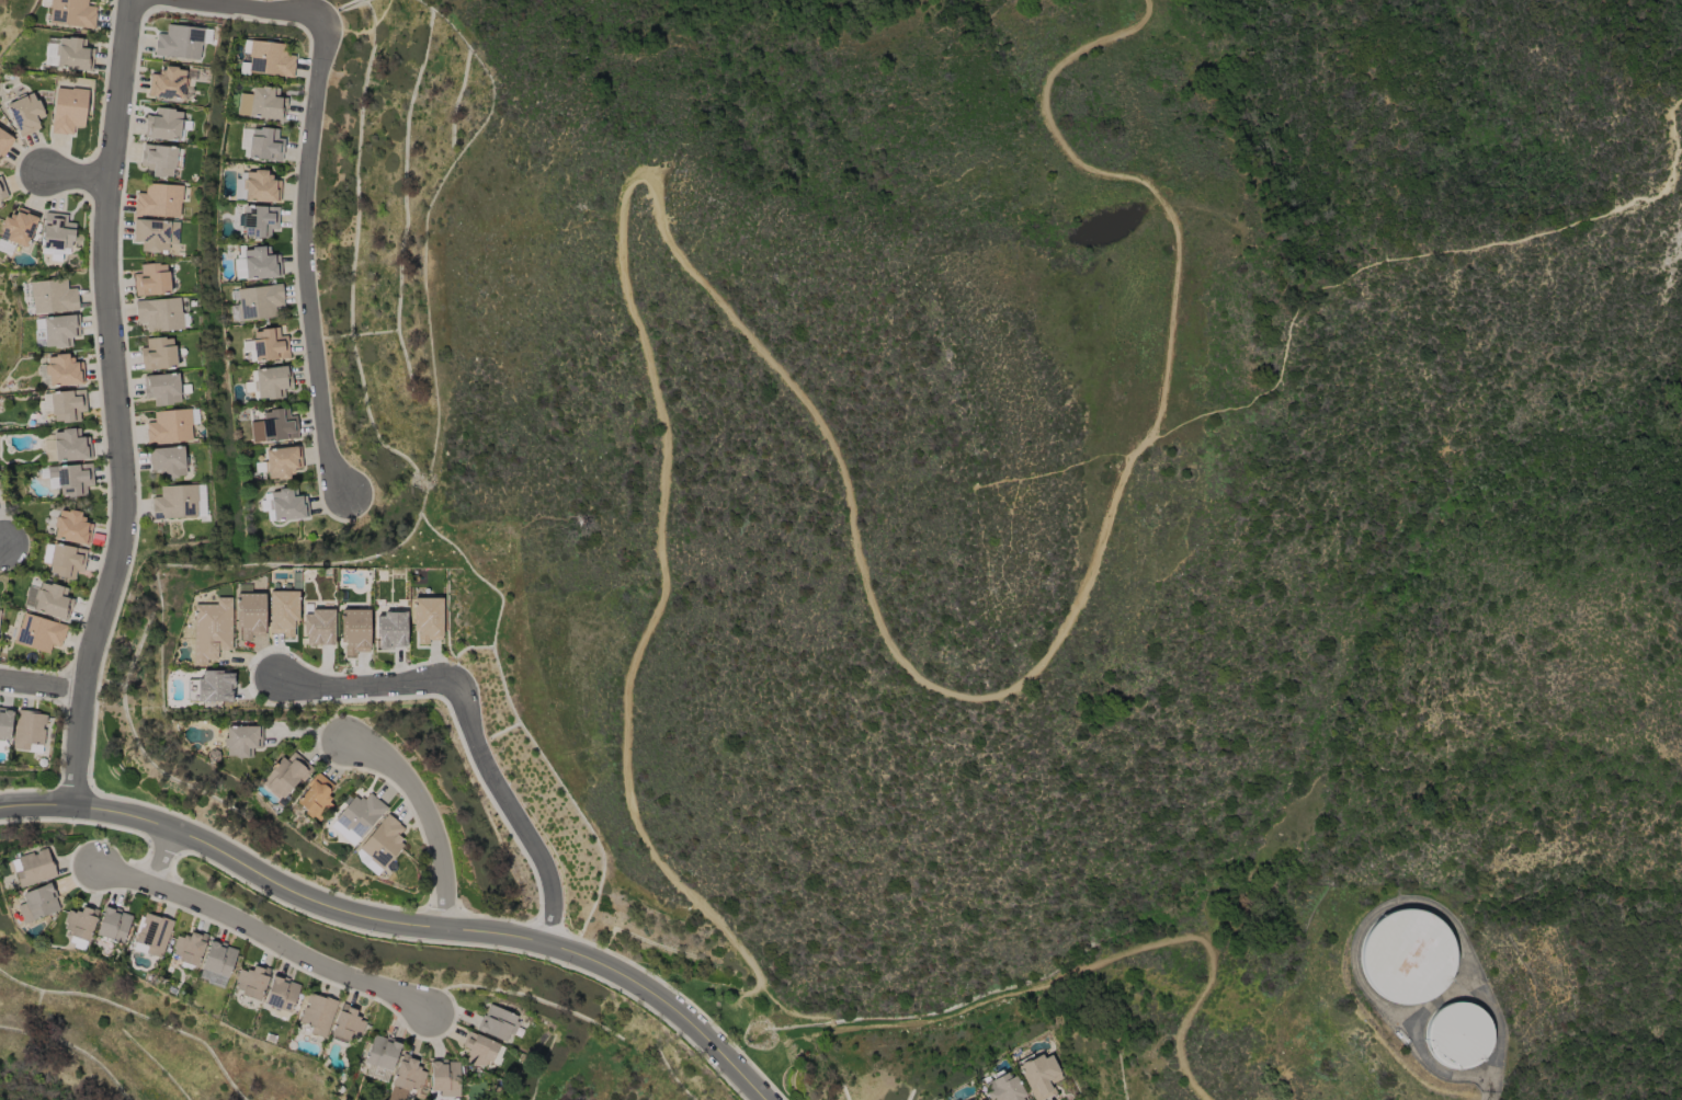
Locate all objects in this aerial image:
building: (71, 13)
road: (362, 31)
building: (181, 42)
building: (73, 55)
building: (265, 58)
building: (167, 84)
building: (261, 103)
building: (68, 110)
building: (25, 114)
building: (166, 125)
building: (4, 142)
building: (261, 144)
building: (159, 160)
road: (76, 177)
road: (305, 180)
road: (654, 185)
building: (257, 187)
building: (2, 190)
building: (159, 200)
building: (259, 220)
building: (16, 230)
building: (156, 234)
building: (56, 236)
building: (255, 264)
building: (151, 279)
road: (1329, 284)
building: (52, 296)
building: (259, 301)
building: (161, 314)
building: (60, 330)
building: (266, 345)
building: (158, 354)
building: (64, 370)
building: (268, 383)
building: (163, 388)
building: (64, 404)
road: (114, 406)
building: (171, 426)
building: (274, 426)
building: (70, 446)
building: (168, 460)
building: (280, 462)
building: (71, 478)
building: (180, 502)
building: (285, 504)
building: (71, 528)
road: (1, 543)
building: (66, 561)
building: (48, 600)
building: (283, 612)
building: (251, 615)
building: (428, 619)
building: (318, 628)
building: (212, 630)
building: (391, 630)
building: (355, 631)
building: (39, 633)
road: (42, 685)
road: (360, 685)
building: (212, 687)
building: (4, 722)
building: (29, 731)
building: (241, 741)
building: (286, 775)
building: (316, 797)
road: (515, 809)
building: (360, 815)
road: (424, 818)
building: (379, 846)
road: (160, 860)
building: (32, 868)
building: (37, 903)
road: (398, 925)
building: (80, 926)
building: (112, 926)
building: (152, 935)
road: (265, 937)
building: (189, 948)
storage tank: (1408, 955)
building: (1407, 956)
building: (217, 963)
building: (251, 981)
building: (281, 993)
park: (721, 1004)
road: (728, 1005)
building: (318, 1013)
building: (346, 1023)
building: (499, 1023)
building: (1458, 1034)
storage tank: (1456, 1038)
building: (481, 1050)
building: (382, 1053)
building: (406, 1076)
building: (1038, 1076)
building: (444, 1077)
building: (1002, 1088)
road: (1487, 1088)
building: (971, 1099)
building: (980, 1099)

